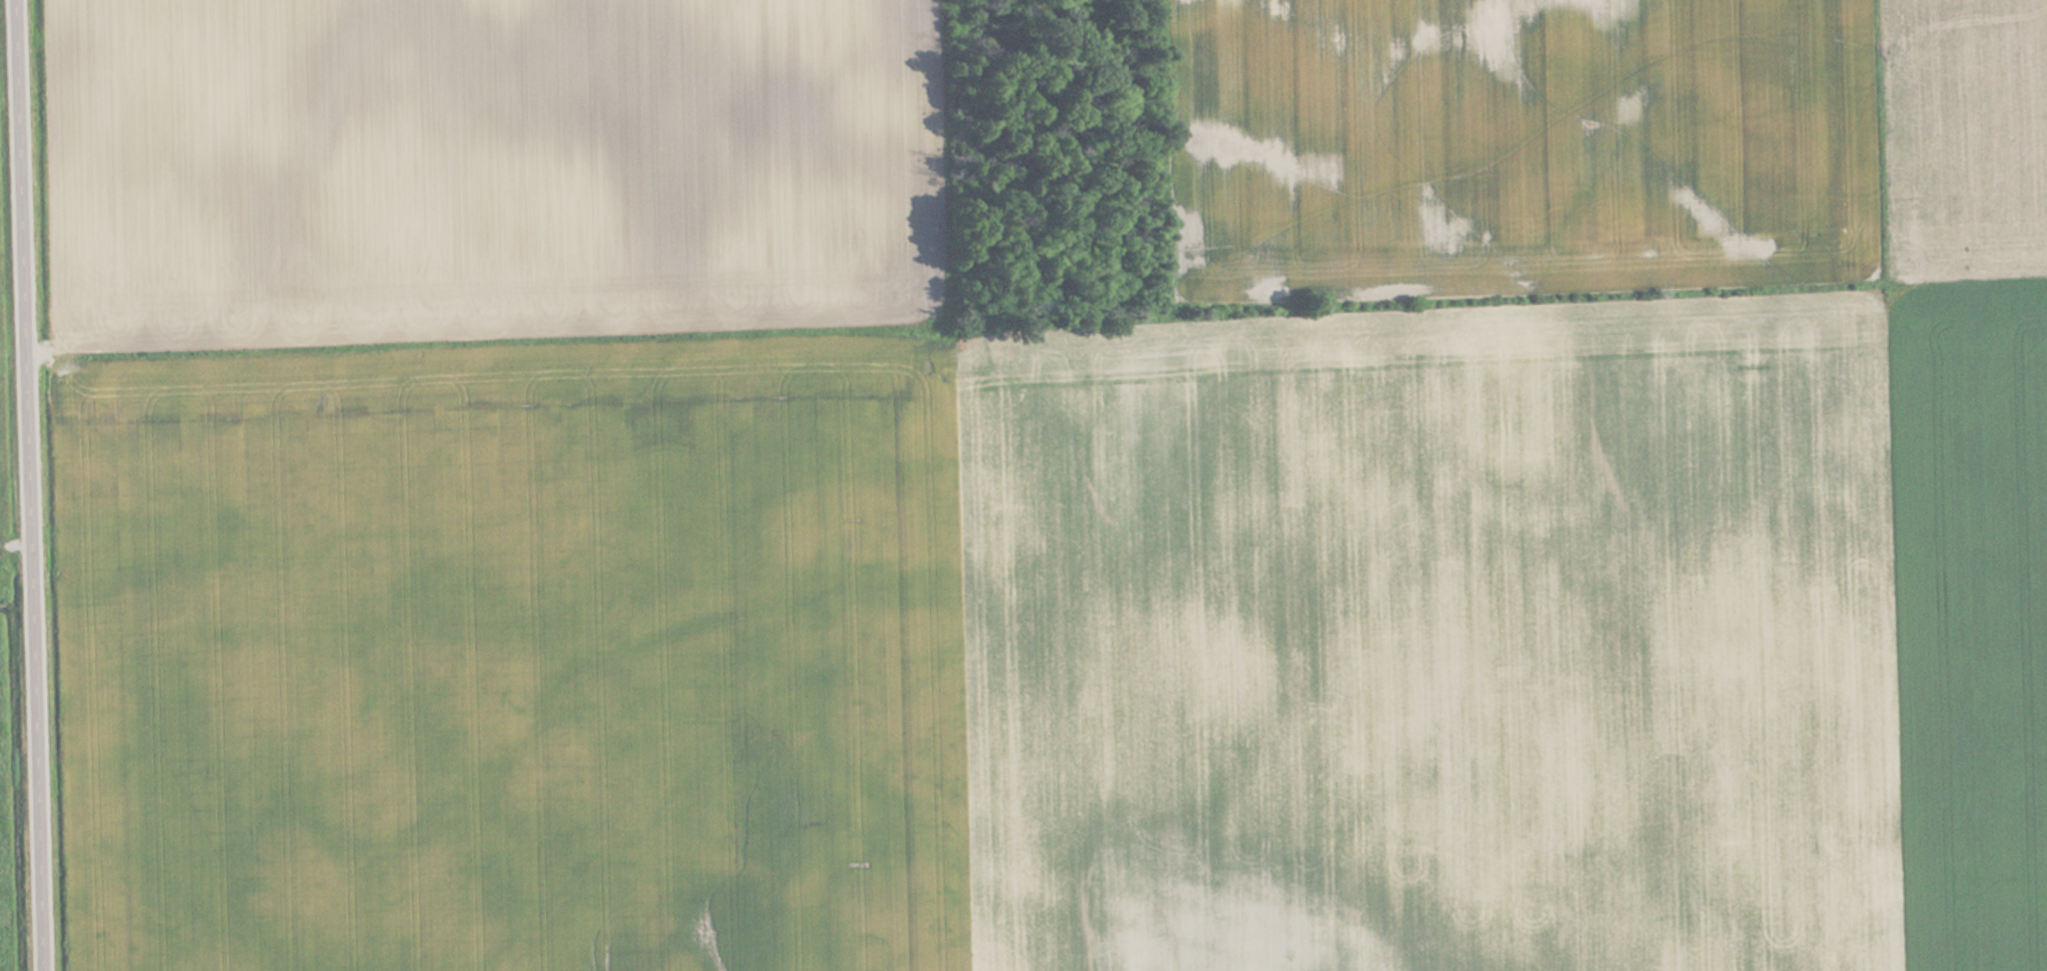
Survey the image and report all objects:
road: (25, 485)

